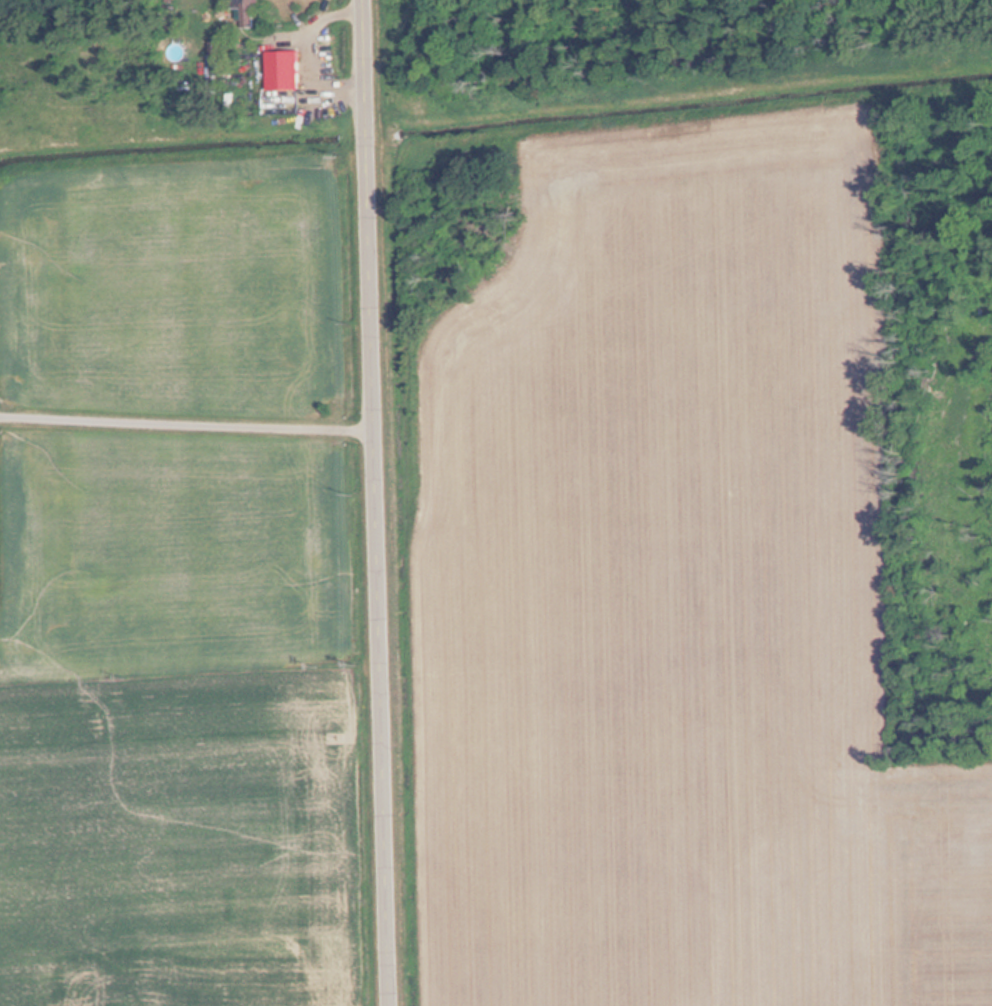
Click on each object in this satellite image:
building: (244, 14)
road: (383, 503)

